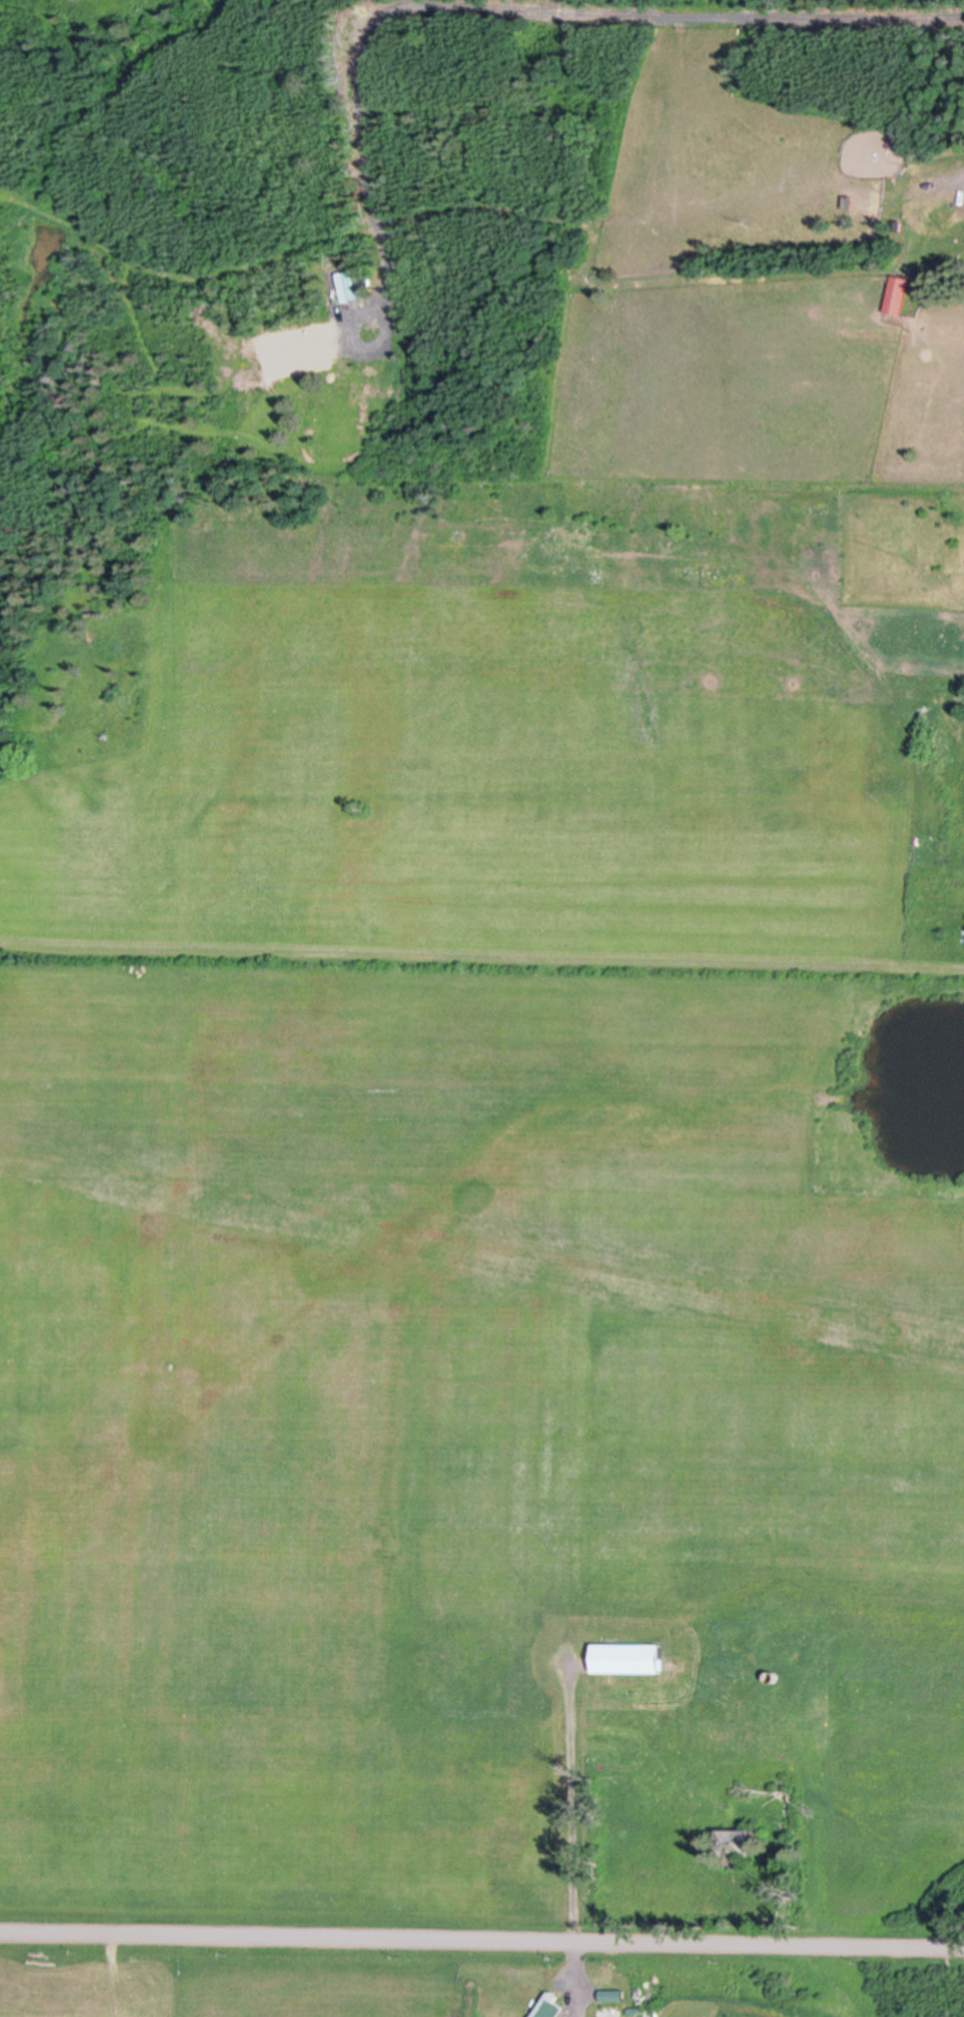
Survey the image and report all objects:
building: (847, 200)
building: (896, 223)
building: (896, 293)
building: (627, 1657)
road: (572, 1805)
building: (736, 1846)
road: (482, 1940)
building: (547, 2006)
building: (607, 2012)

